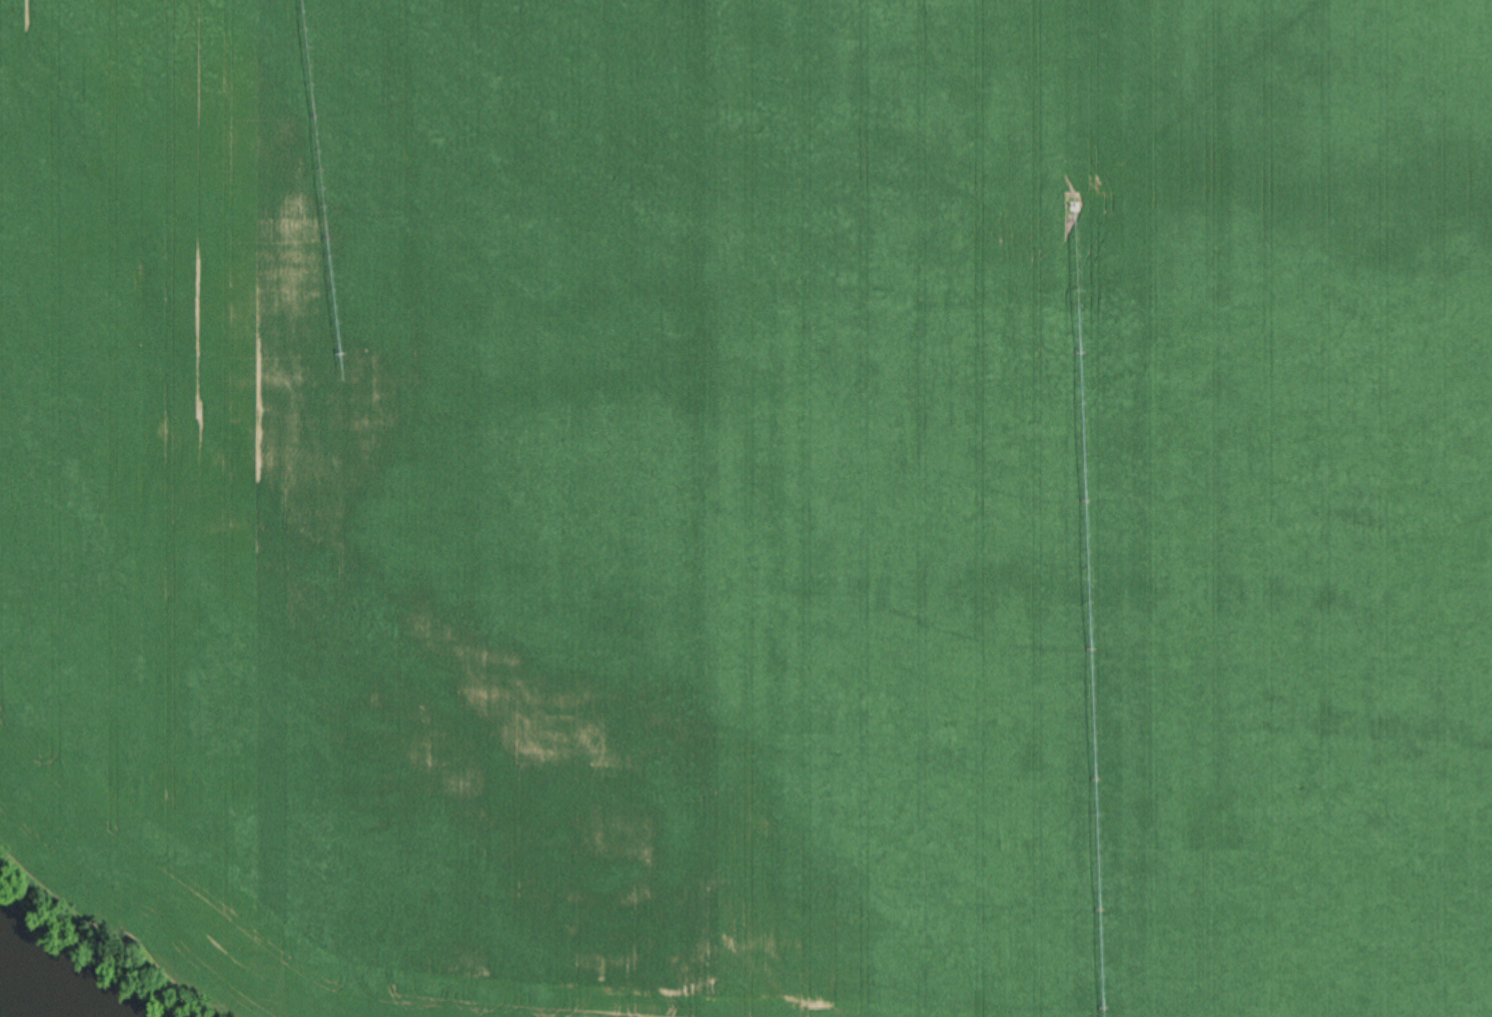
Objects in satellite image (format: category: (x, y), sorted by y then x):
crop: (600, 212)
crop: (818, 618)
river: (25, 998)

